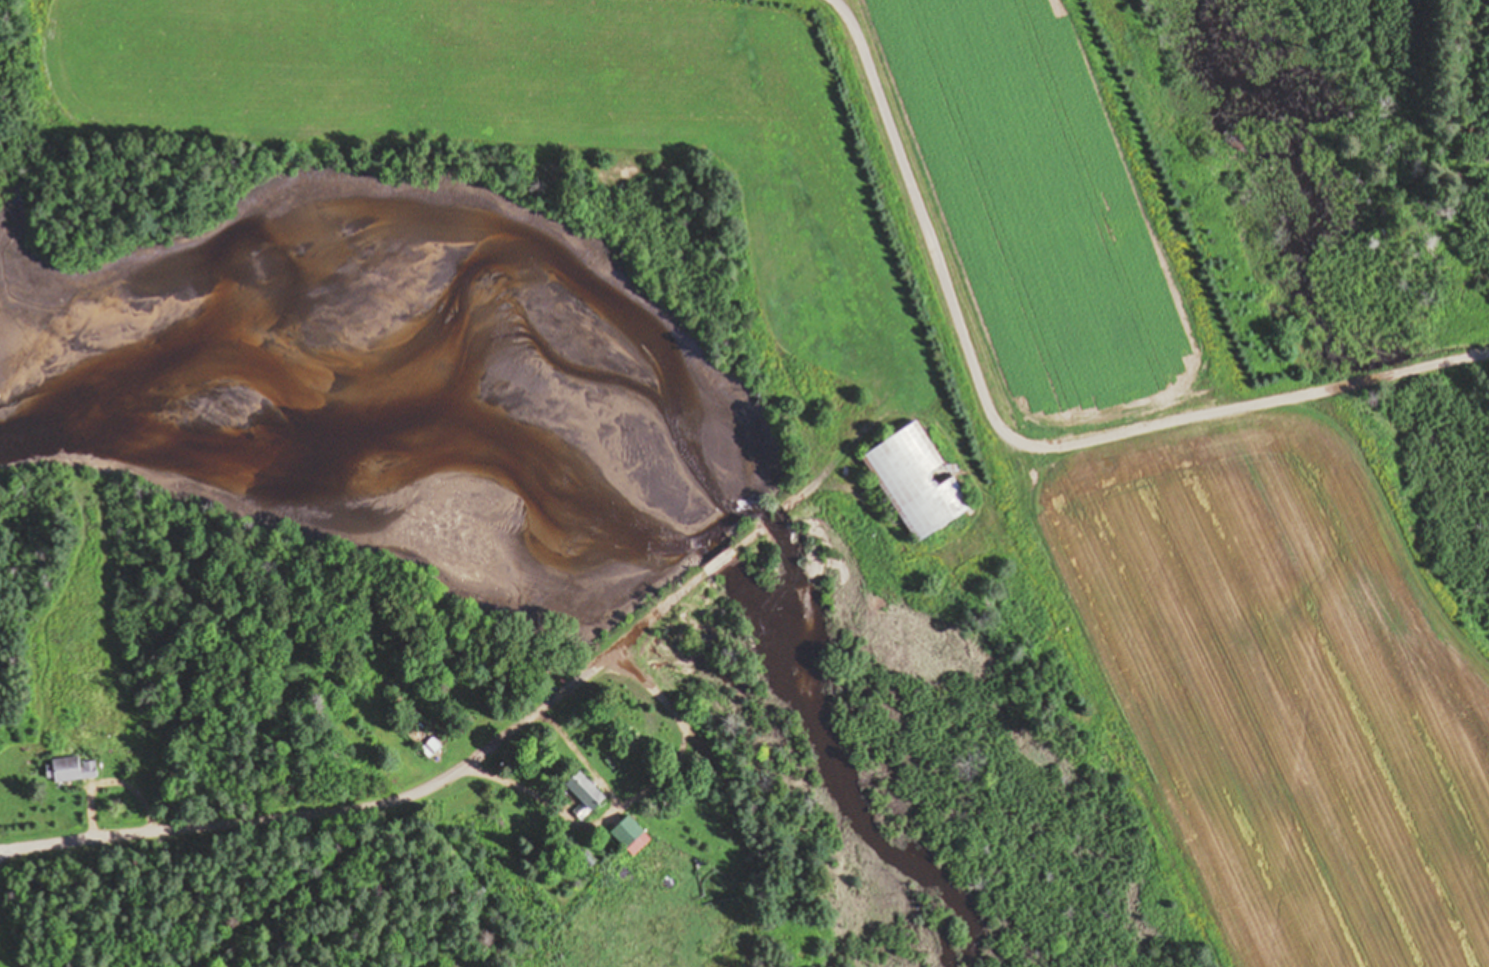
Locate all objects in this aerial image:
river: (376, 425)
road: (1016, 443)
building: (917, 481)
road: (773, 515)
road: (719, 559)
dam: (724, 563)
road: (682, 729)
building: (431, 747)
building: (71, 769)
river: (841, 776)
road: (112, 780)
building: (584, 794)
road: (384, 800)
road: (599, 821)
building: (630, 835)
road: (742, 835)

